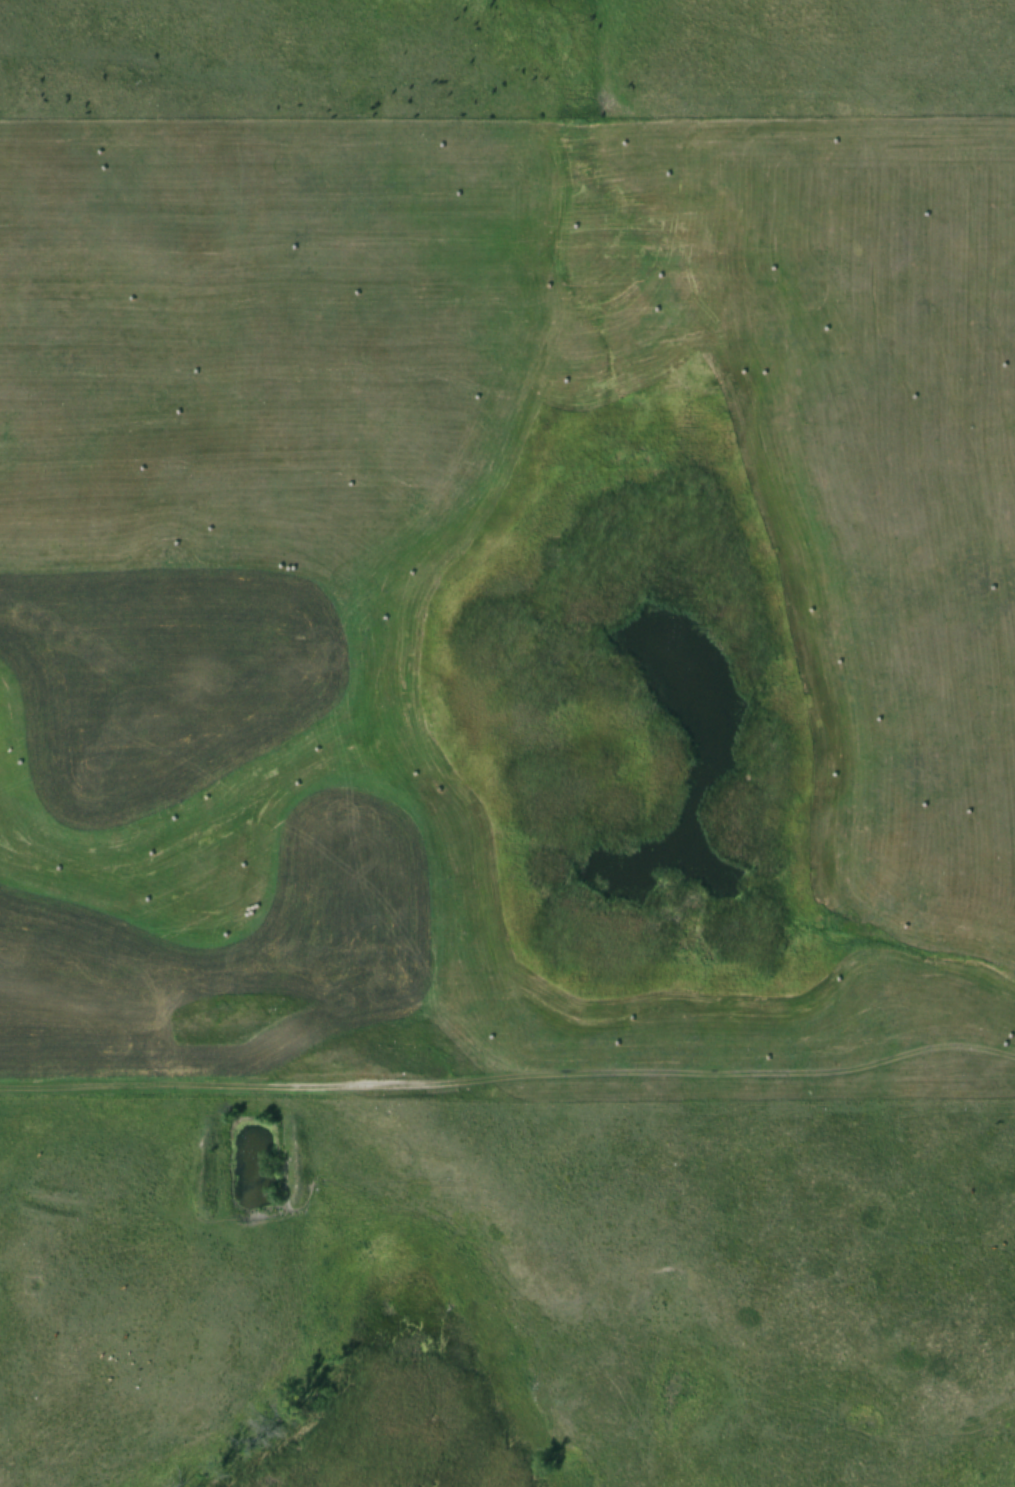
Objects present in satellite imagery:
road: (507, 1082)

